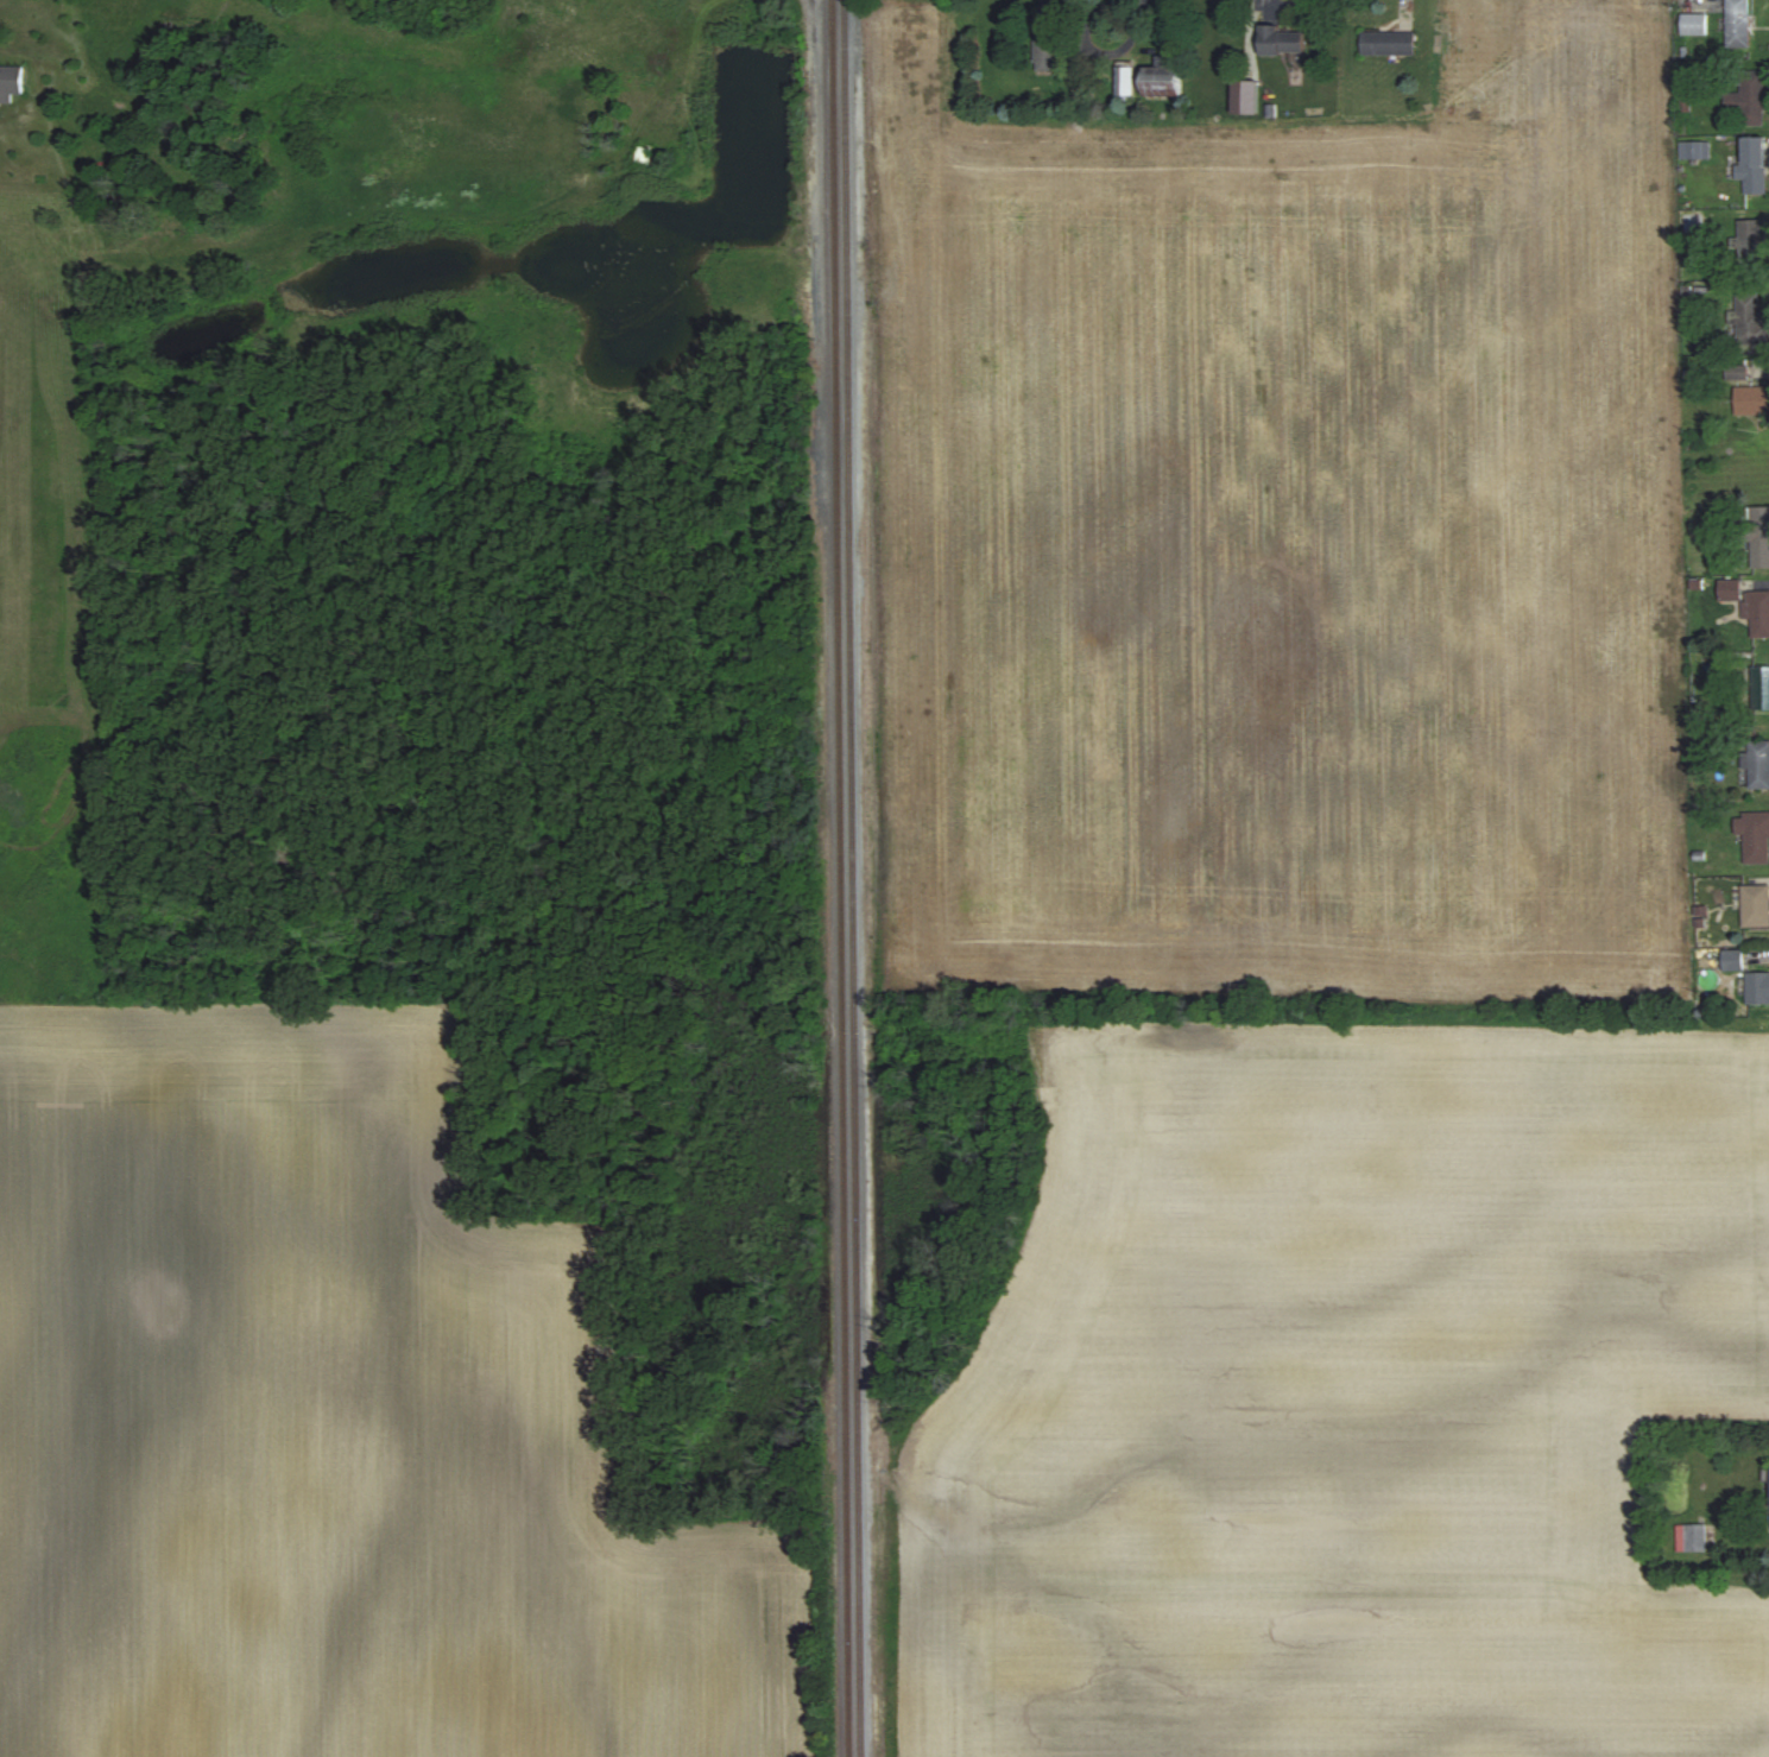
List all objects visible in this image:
building: (1738, 23)
building: (1693, 24)
building: (1047, 37)
building: (1280, 40)
building: (1386, 43)
building: (1125, 80)
building: (11, 82)
building: (1163, 82)
building: (1244, 96)
building: (1749, 97)
building: (1694, 150)
building: (642, 154)
building: (1752, 165)
building: (1692, 225)
building: (1751, 242)
building: (90, 286)
building: (1750, 318)
building: (1751, 399)
building: (1758, 536)
building: (1757, 612)
building: (1761, 689)
building: (1758, 764)
building: (1755, 838)
railway: (840, 878)
railway: (852, 878)
building: (1755, 905)
building: (1733, 960)
building: (1757, 988)
building: (1692, 1537)

